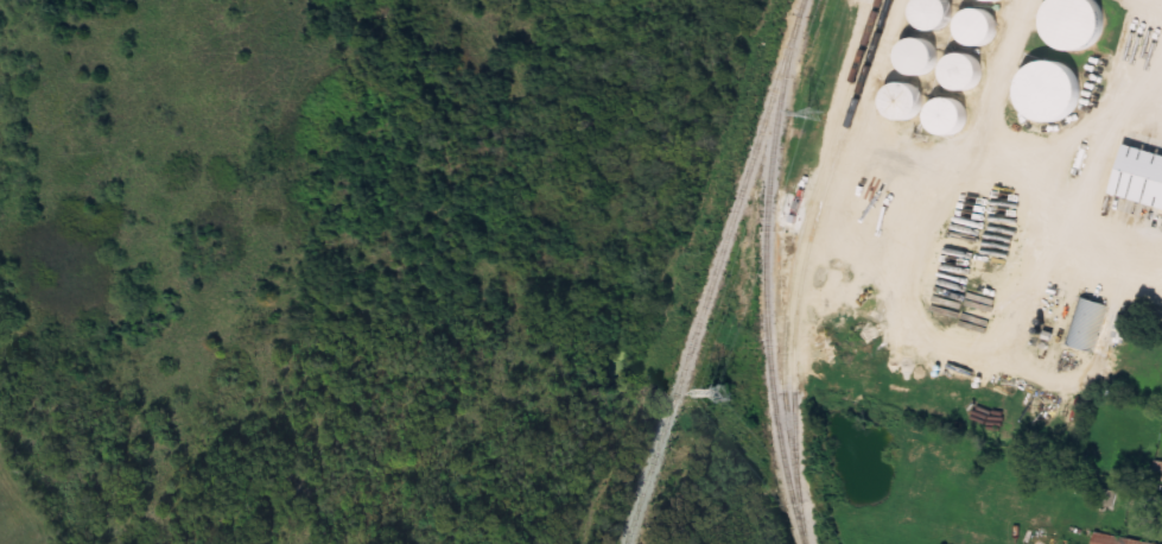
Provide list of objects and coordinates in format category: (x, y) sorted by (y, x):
building: (993, 0)
building: (931, 13)
building: (1068, 24)
building: (973, 27)
building: (913, 53)
building: (959, 70)
building: (1044, 91)
building: (900, 102)
power tower: (815, 116)
building: (945, 118)
building: (1021, 162)
building: (1138, 177)
building: (989, 253)
railway: (718, 271)
railway: (768, 282)
building: (966, 323)
building: (1086, 325)
power tower: (722, 397)
building: (1106, 498)
building: (1113, 540)

